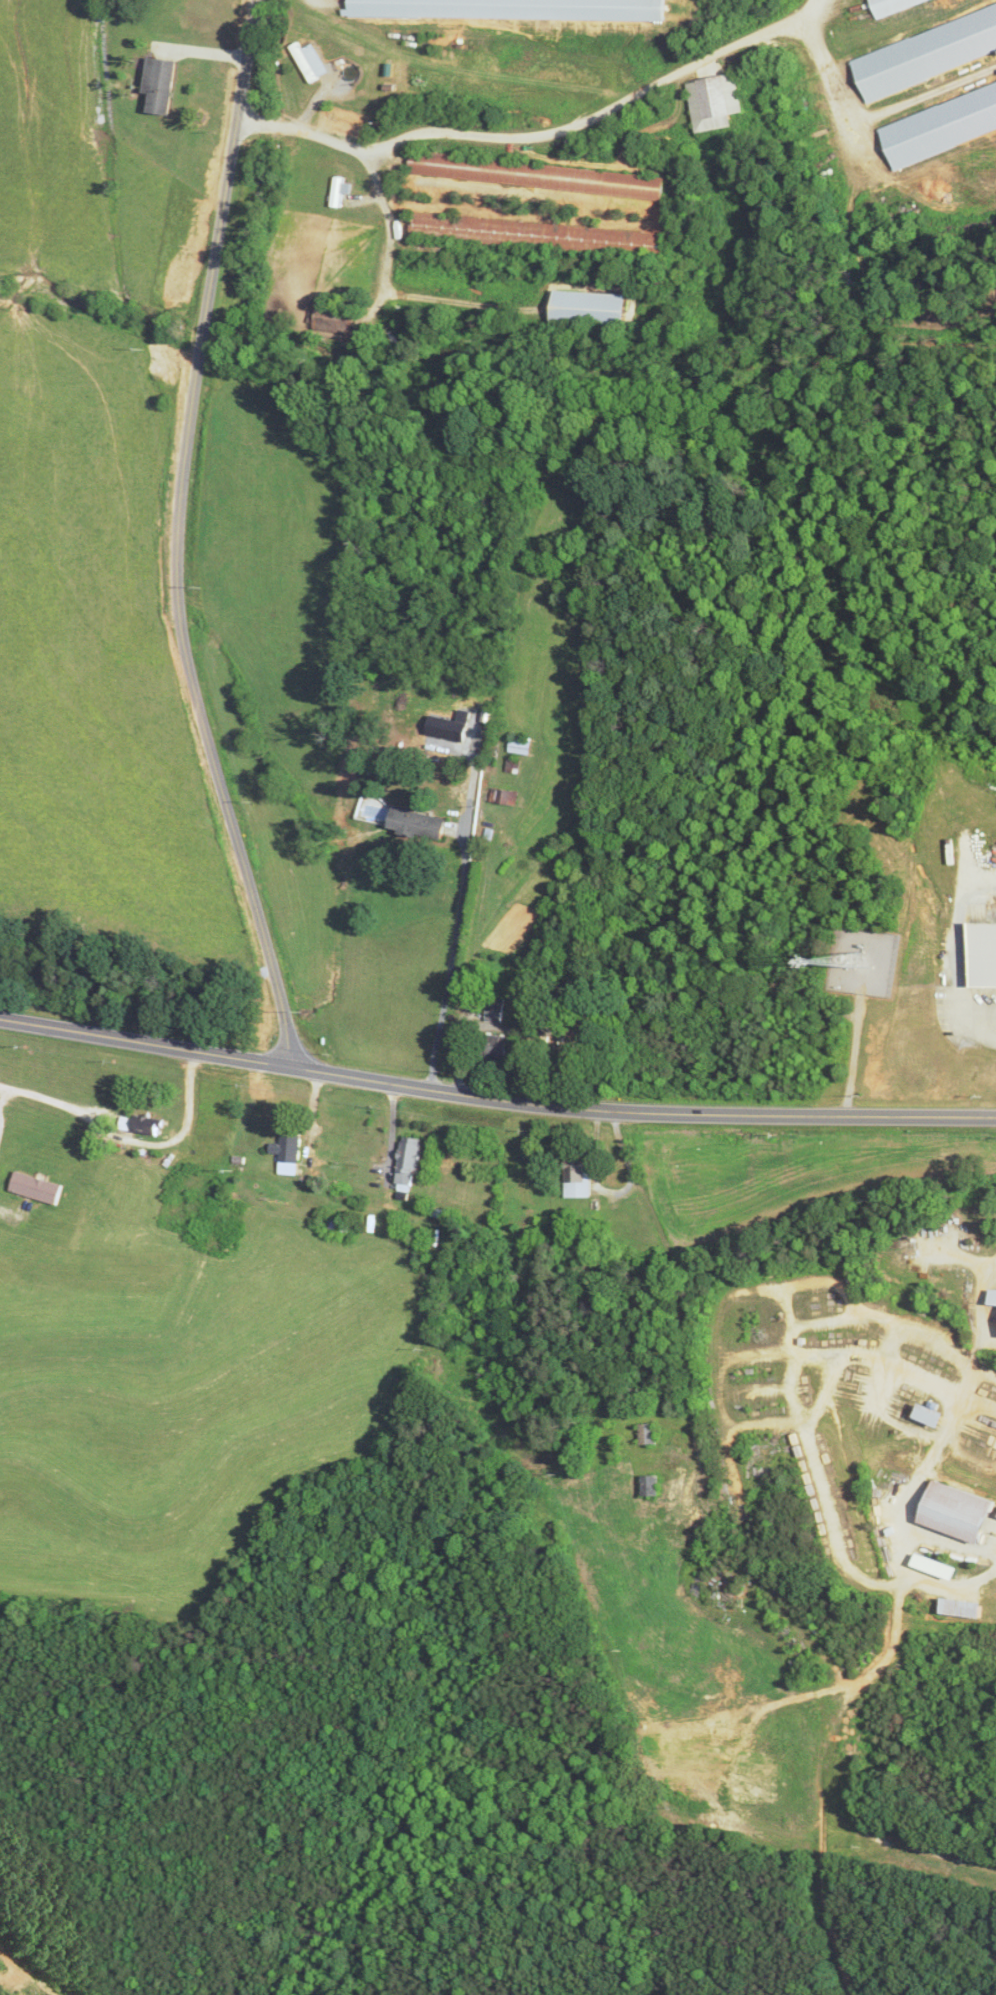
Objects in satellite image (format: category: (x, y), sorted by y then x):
building: (516, 9)
building: (923, 49)
building: (309, 61)
building: (163, 86)
building: (716, 101)
building: (347, 122)
building: (938, 122)
road: (536, 137)
building: (539, 174)
building: (538, 234)
building: (594, 308)
road: (177, 537)
building: (521, 745)
building: (512, 766)
building: (514, 797)
building: (421, 823)
building: (983, 955)
road: (462, 965)
building: (494, 1010)
building: (497, 1046)
road: (494, 1099)
building: (146, 1125)
building: (290, 1153)
building: (410, 1168)
building: (581, 1175)
building: (38, 1187)
building: (994, 1297)
road: (650, 1320)
building: (934, 1415)
building: (648, 1435)
building: (650, 1486)
building: (961, 1512)
building: (964, 1608)

